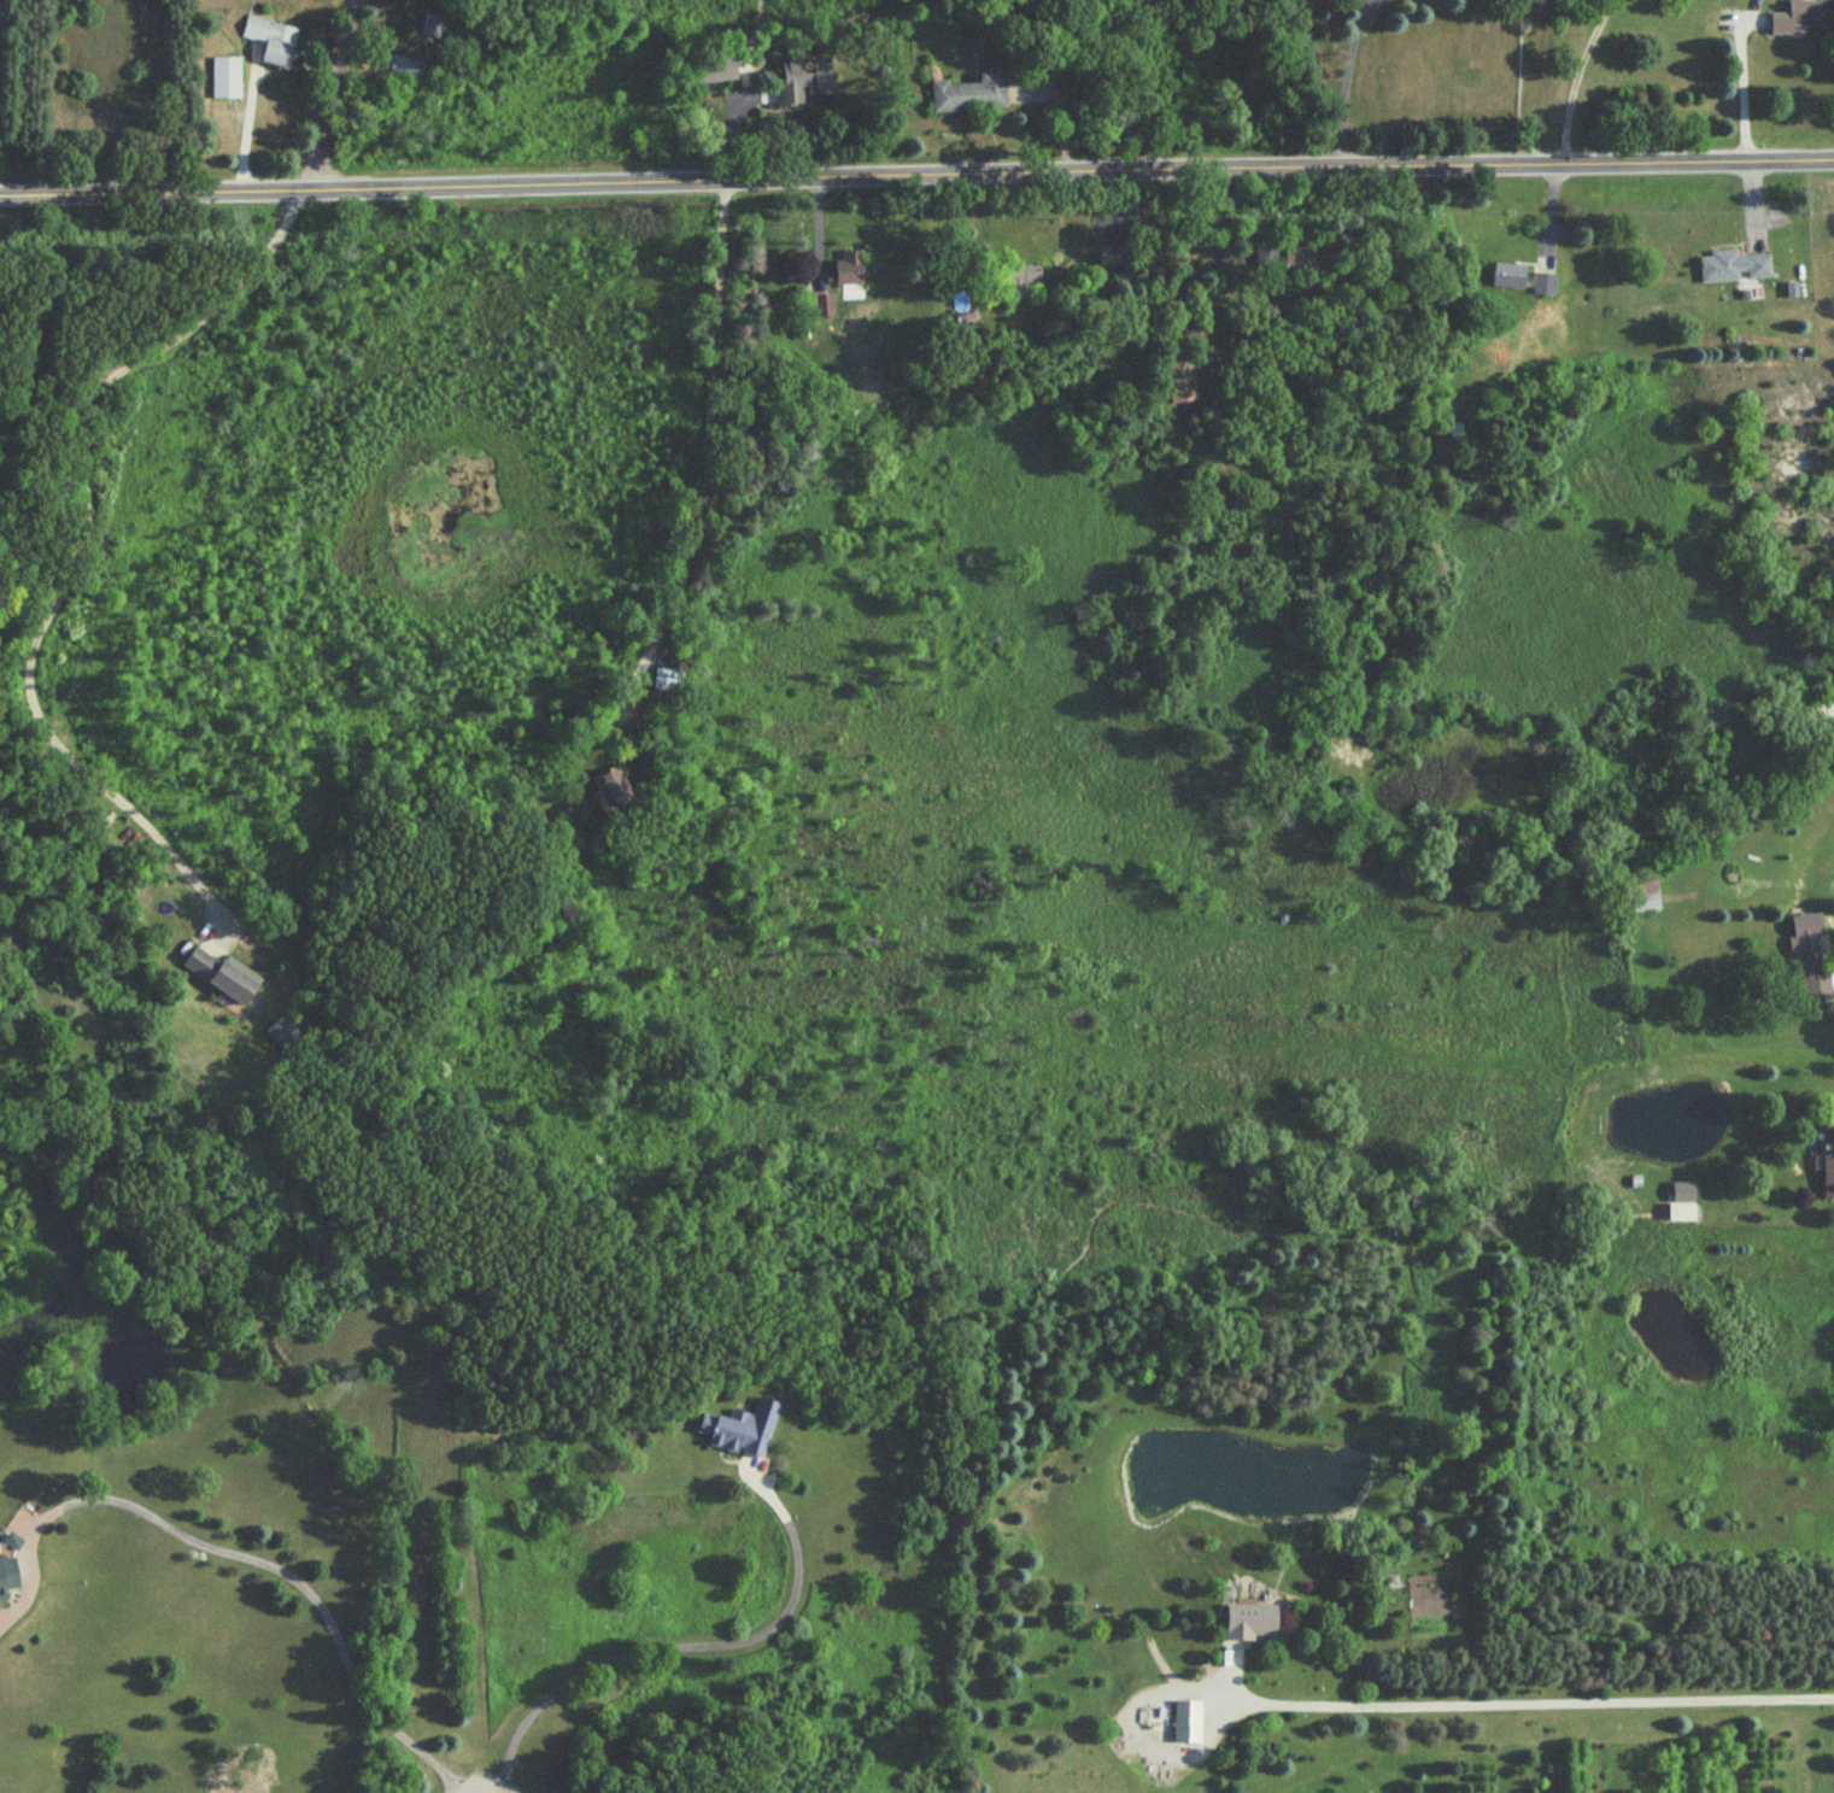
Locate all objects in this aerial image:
building: (1801, 17)
building: (426, 29)
building: (273, 41)
road: (752, 43)
building: (707, 63)
road: (1576, 78)
building: (227, 80)
building: (801, 82)
road: (1347, 82)
road: (1745, 87)
road: (335, 94)
building: (971, 95)
road: (1059, 111)
road: (246, 125)
road: (728, 134)
road: (916, 176)
road: (1557, 200)
road: (818, 227)
building: (1112, 259)
road: (1162, 260)
building: (1302, 262)
building: (1735, 266)
building: (848, 270)
building: (1510, 276)
building: (1023, 283)
building: (1546, 286)
building: (822, 307)
road: (1827, 373)
building: (1182, 383)
building: (1455, 434)
road: (713, 450)
road: (77, 551)
building: (664, 681)
building: (1824, 713)
building: (614, 787)
building: (1810, 960)
building: (223, 974)
building: (1828, 1177)
building: (1683, 1203)
building: (743, 1430)
building: (7, 1577)
road: (292, 1577)
building: (1252, 1623)
road: (692, 1647)
road: (1539, 1704)
building: (1172, 1723)

